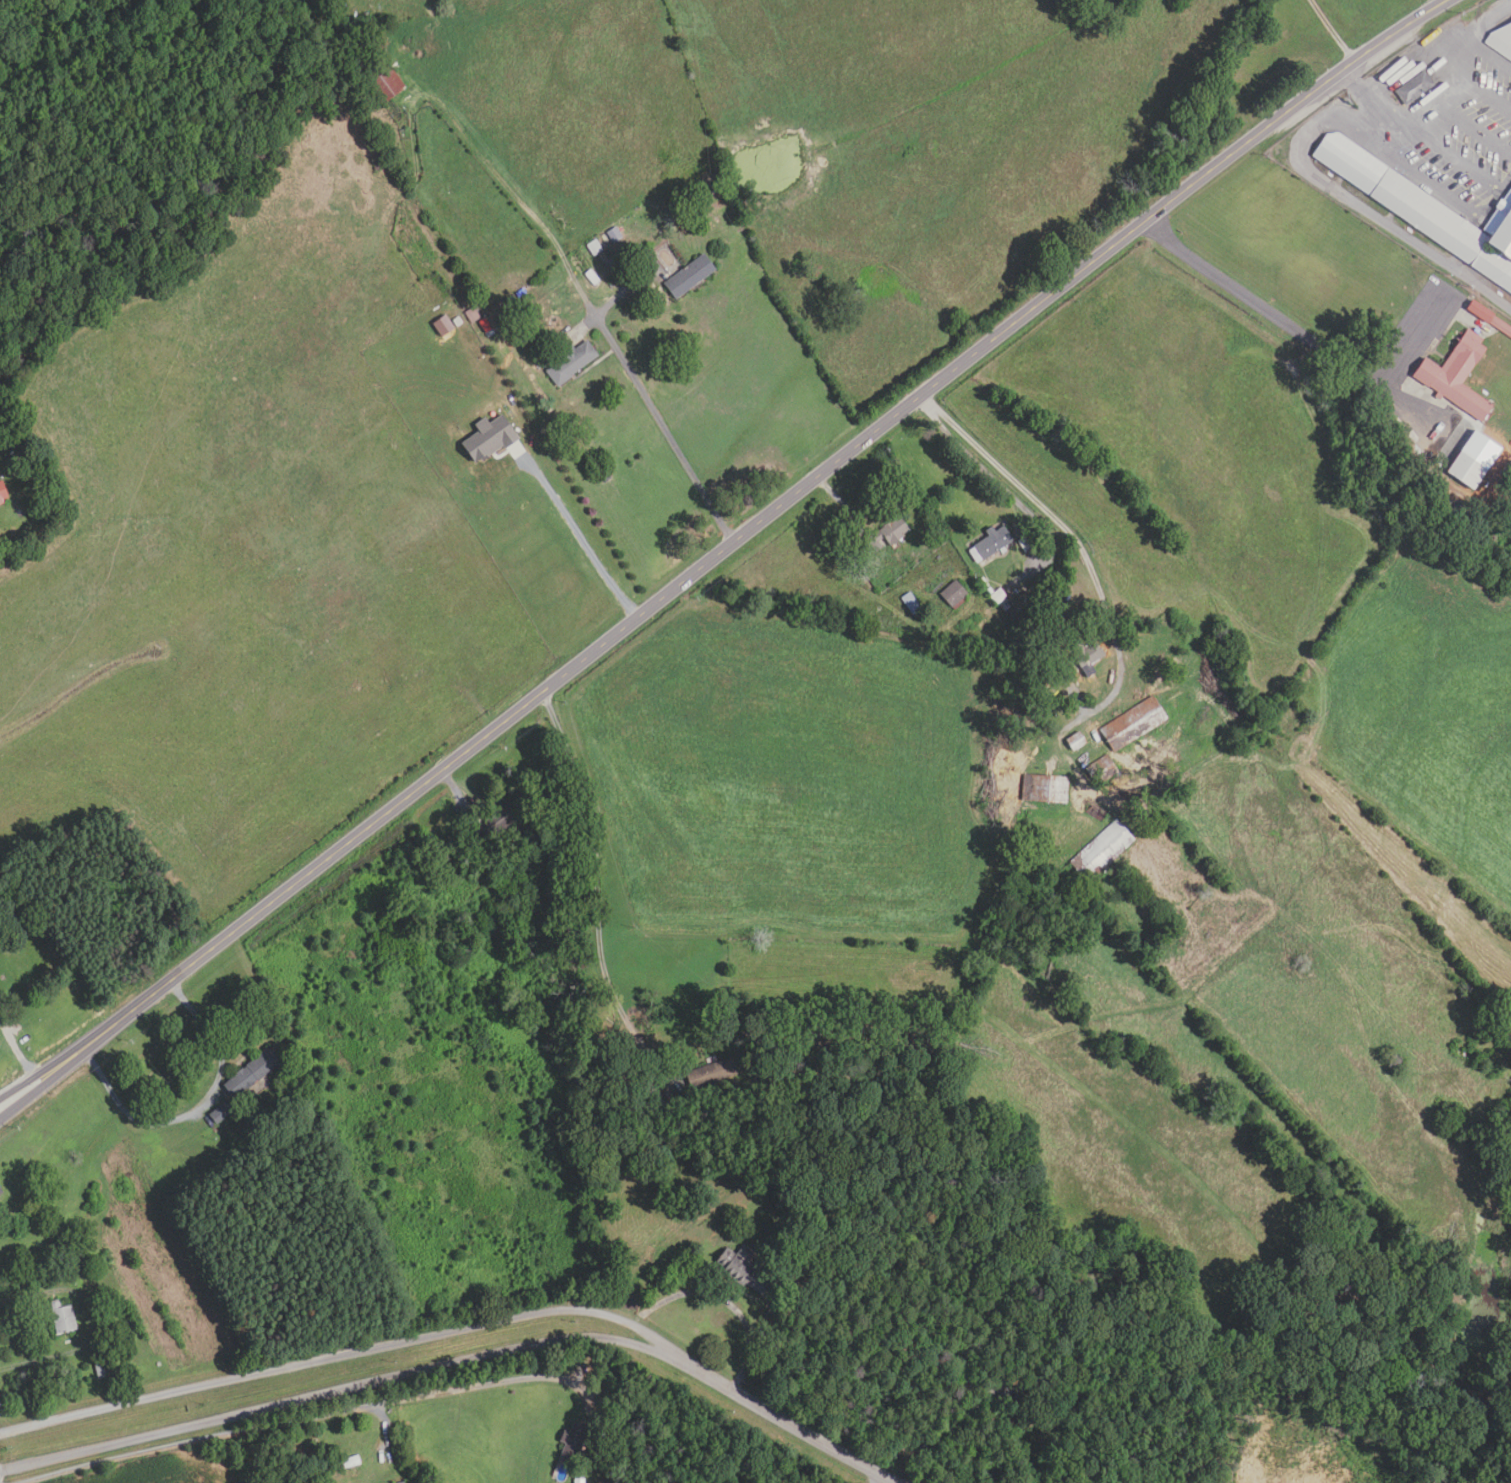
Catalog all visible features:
road: (1333, 32)
building: (376, 40)
building: (1501, 41)
building: (382, 82)
building: (1414, 87)
road: (1381, 97)
building: (1425, 209)
building: (613, 234)
building: (593, 247)
building: (688, 275)
building: (592, 277)
building: (611, 286)
road: (592, 310)
building: (472, 315)
road: (1284, 324)
building: (483, 325)
building: (1499, 326)
building: (570, 362)
building: (538, 367)
building: (1456, 375)
building: (490, 438)
building: (15, 455)
building: (1466, 470)
building: (2, 492)
building: (0, 501)
road: (1038, 518)
building: (885, 534)
road: (745, 536)
road: (573, 540)
building: (1026, 542)
building: (990, 544)
building: (938, 557)
building: (982, 583)
building: (989, 591)
building: (953, 595)
building: (998, 596)
building: (911, 603)
building: (1005, 606)
building: (1084, 657)
building: (1051, 690)
building: (1133, 724)
building: (1075, 741)
building: (1100, 770)
building: (1044, 789)
building: (1094, 810)
building: (496, 821)
building: (1102, 851)
road: (596, 891)
building: (464, 944)
building: (249, 1074)
building: (711, 1075)
building: (619, 1078)
road: (21, 1090)
road: (22, 1096)
building: (641, 1105)
road: (196, 1109)
building: (220, 1113)
building: (1, 1192)
building: (0, 1197)
building: (73, 1263)
building: (741, 1269)
building: (61, 1318)
road: (89, 1323)
road: (339, 1354)
building: (102, 1371)
building: (970, 1378)
road: (486, 1385)
road: (333, 1391)
building: (1023, 1409)
road: (784, 1417)
road: (386, 1424)
road: (939, 1434)
building: (572, 1440)
road: (203, 1442)
building: (343, 1463)
road: (878, 1478)
building: (578, 1480)
building: (400, 1482)
building: (605, 1482)

